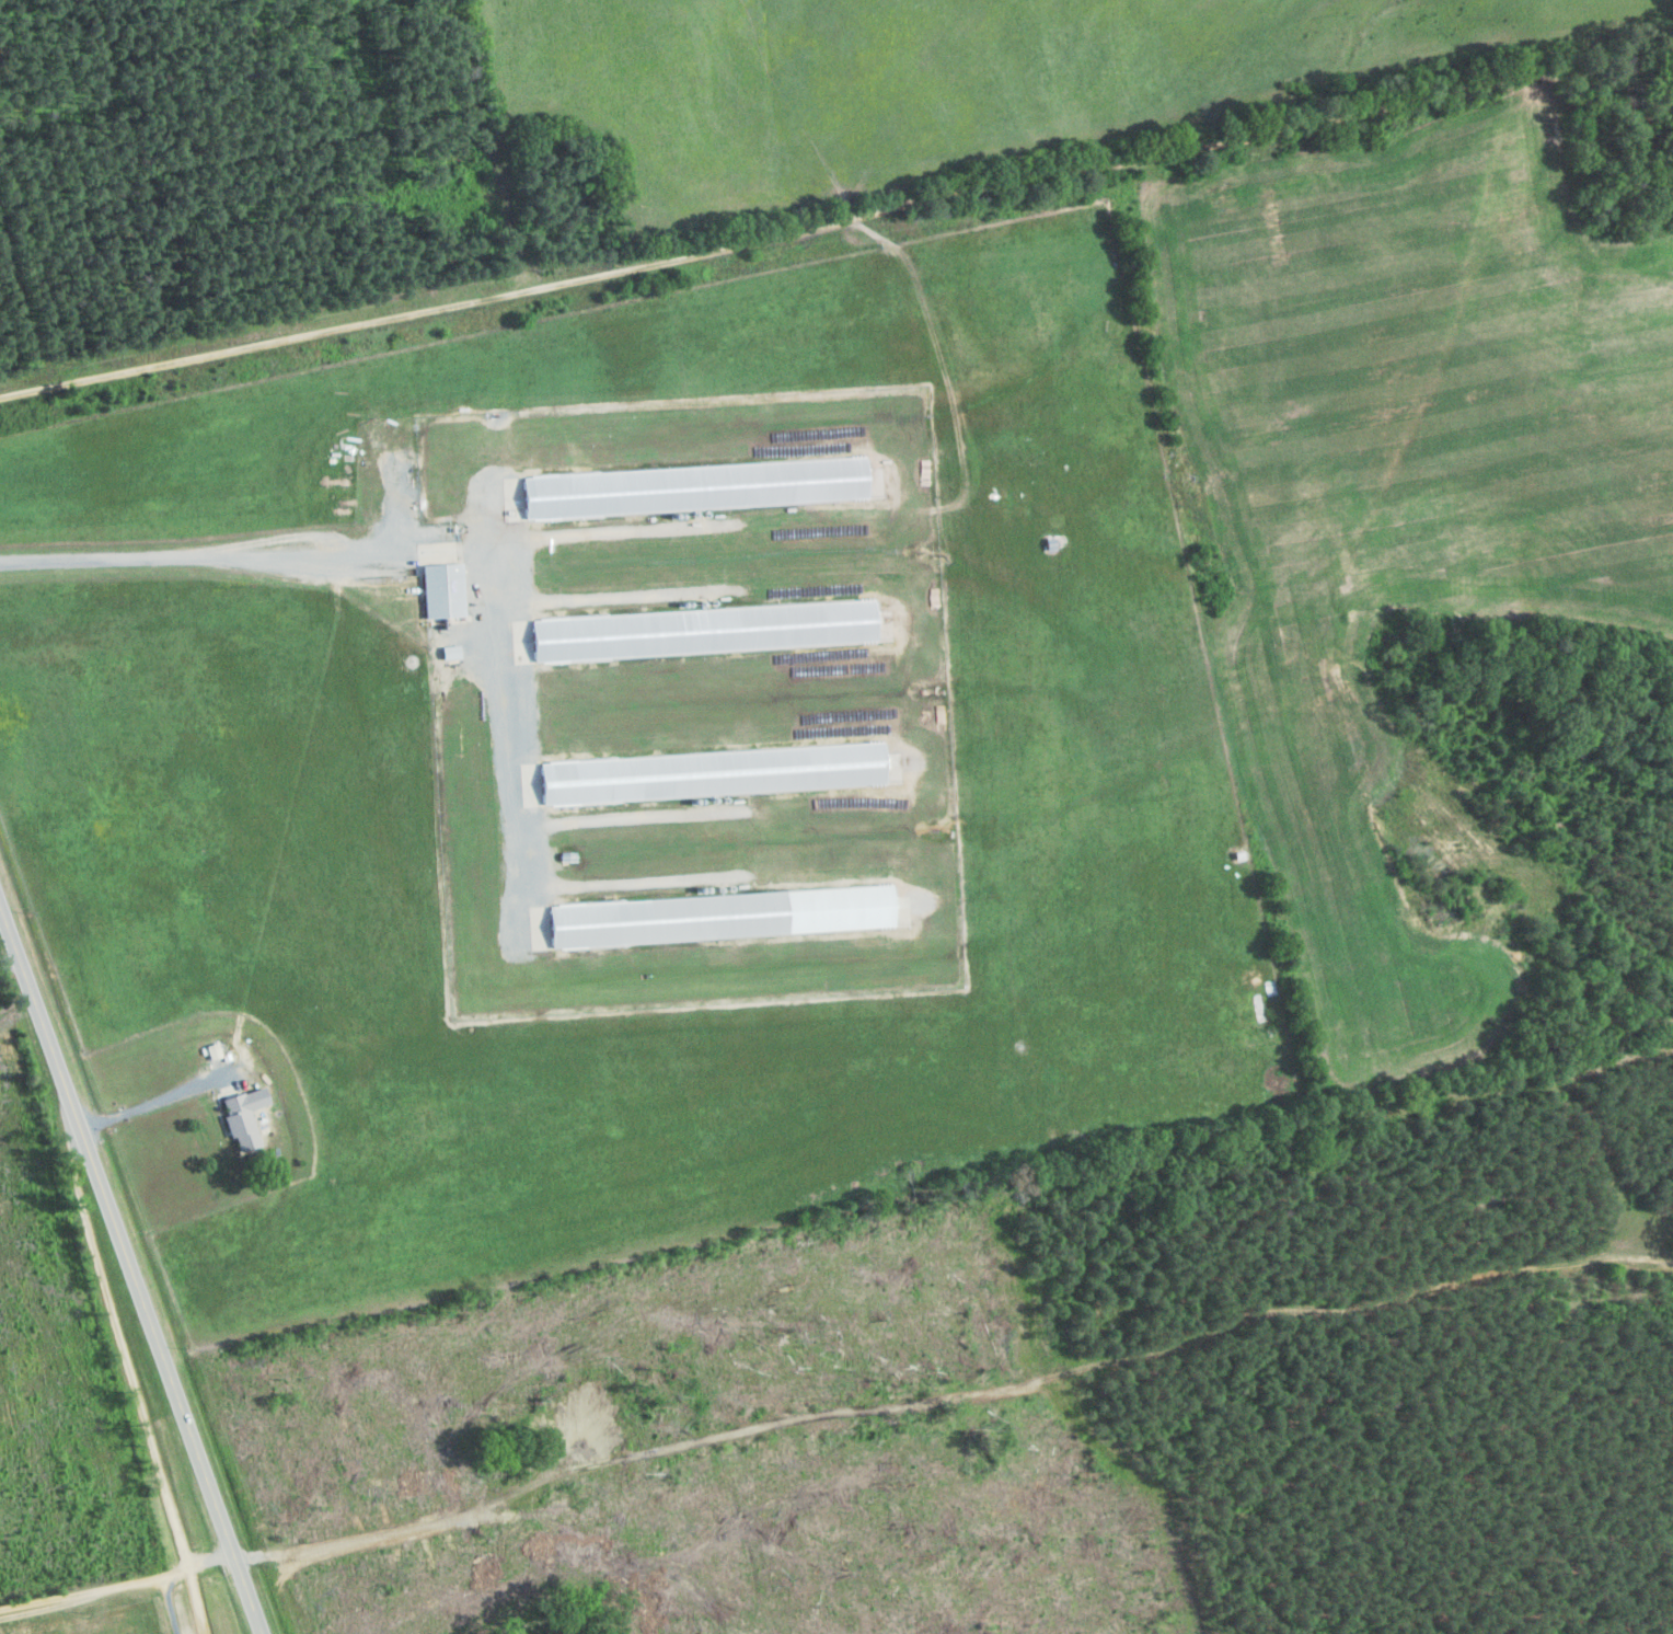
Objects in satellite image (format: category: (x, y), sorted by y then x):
road: (404, 310)
building: (692, 490)
building: (441, 592)
building: (701, 633)
building: (709, 775)
building: (718, 918)
road: (14, 985)
building: (242, 1118)
road: (131, 1266)
road: (115, 1307)
road: (1443, 1543)
road: (97, 1567)

